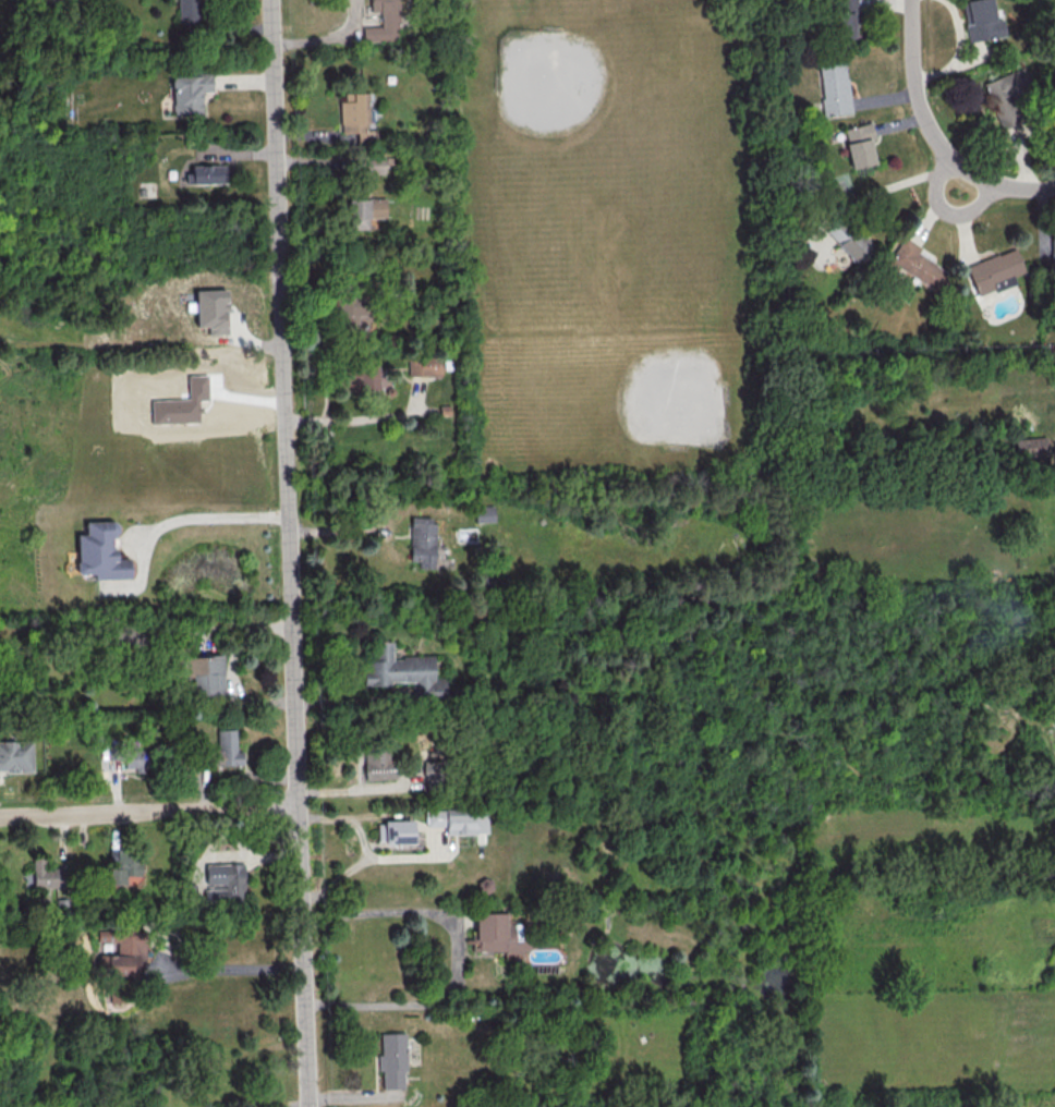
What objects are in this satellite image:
building: (191, 11)
building: (842, 17)
building: (384, 21)
building: (834, 87)
building: (190, 93)
road: (918, 97)
building: (1007, 99)
building: (353, 112)
park: (583, 112)
building: (859, 145)
building: (375, 165)
building: (206, 173)
road: (1012, 187)
building: (359, 214)
building: (847, 239)
building: (1052, 248)
building: (915, 261)
building: (994, 270)
building: (210, 309)
building: (350, 314)
building: (423, 366)
park: (650, 372)
building: (361, 377)
building: (180, 403)
building: (1029, 447)
building: (483, 513)
road: (173, 520)
building: (421, 540)
building: (99, 552)
road: (288, 553)
building: (397, 669)
building: (204, 674)
road: (839, 719)
building: (225, 749)
building: (15, 755)
building: (377, 763)
road: (148, 811)
building: (458, 820)
building: (121, 866)
building: (47, 873)
building: (225, 883)
building: (494, 934)
building: (121, 950)
road: (459, 954)
road: (227, 971)
building: (391, 1059)

